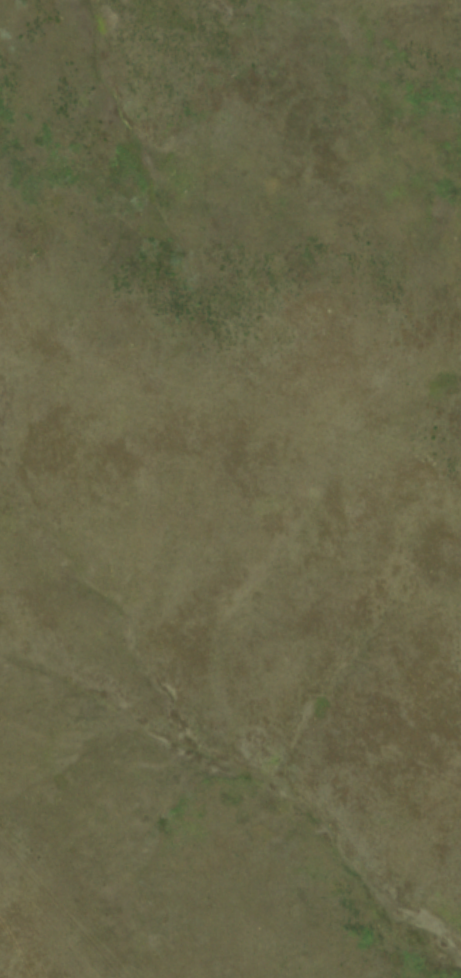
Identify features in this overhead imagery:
road: (57, 905)

